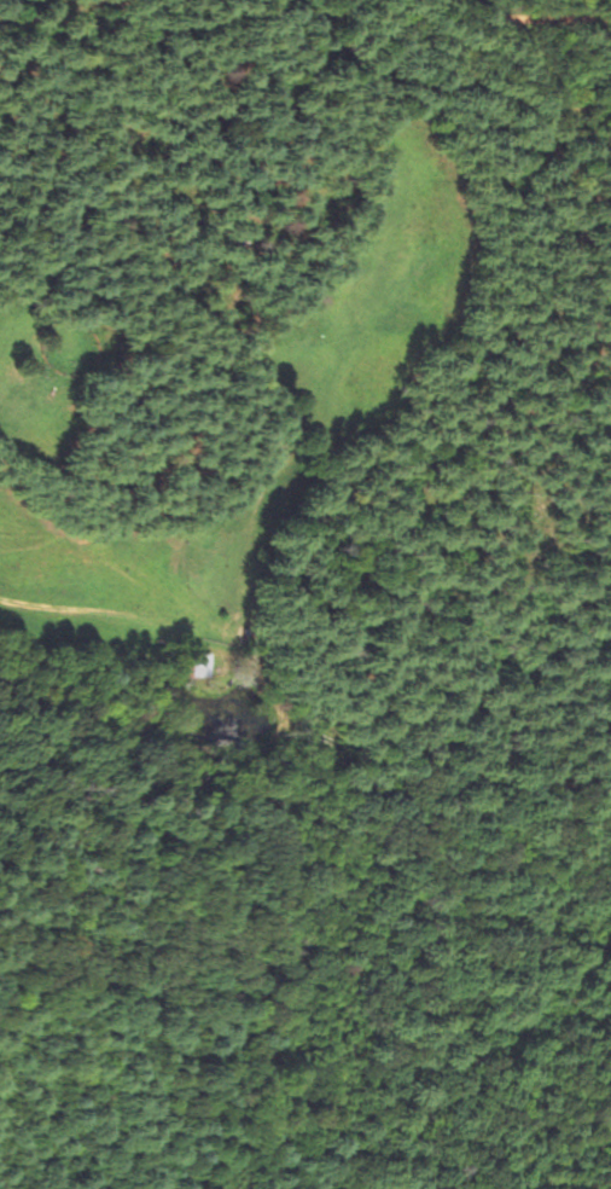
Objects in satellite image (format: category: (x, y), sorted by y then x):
road: (541, 17)
road: (554, 91)

